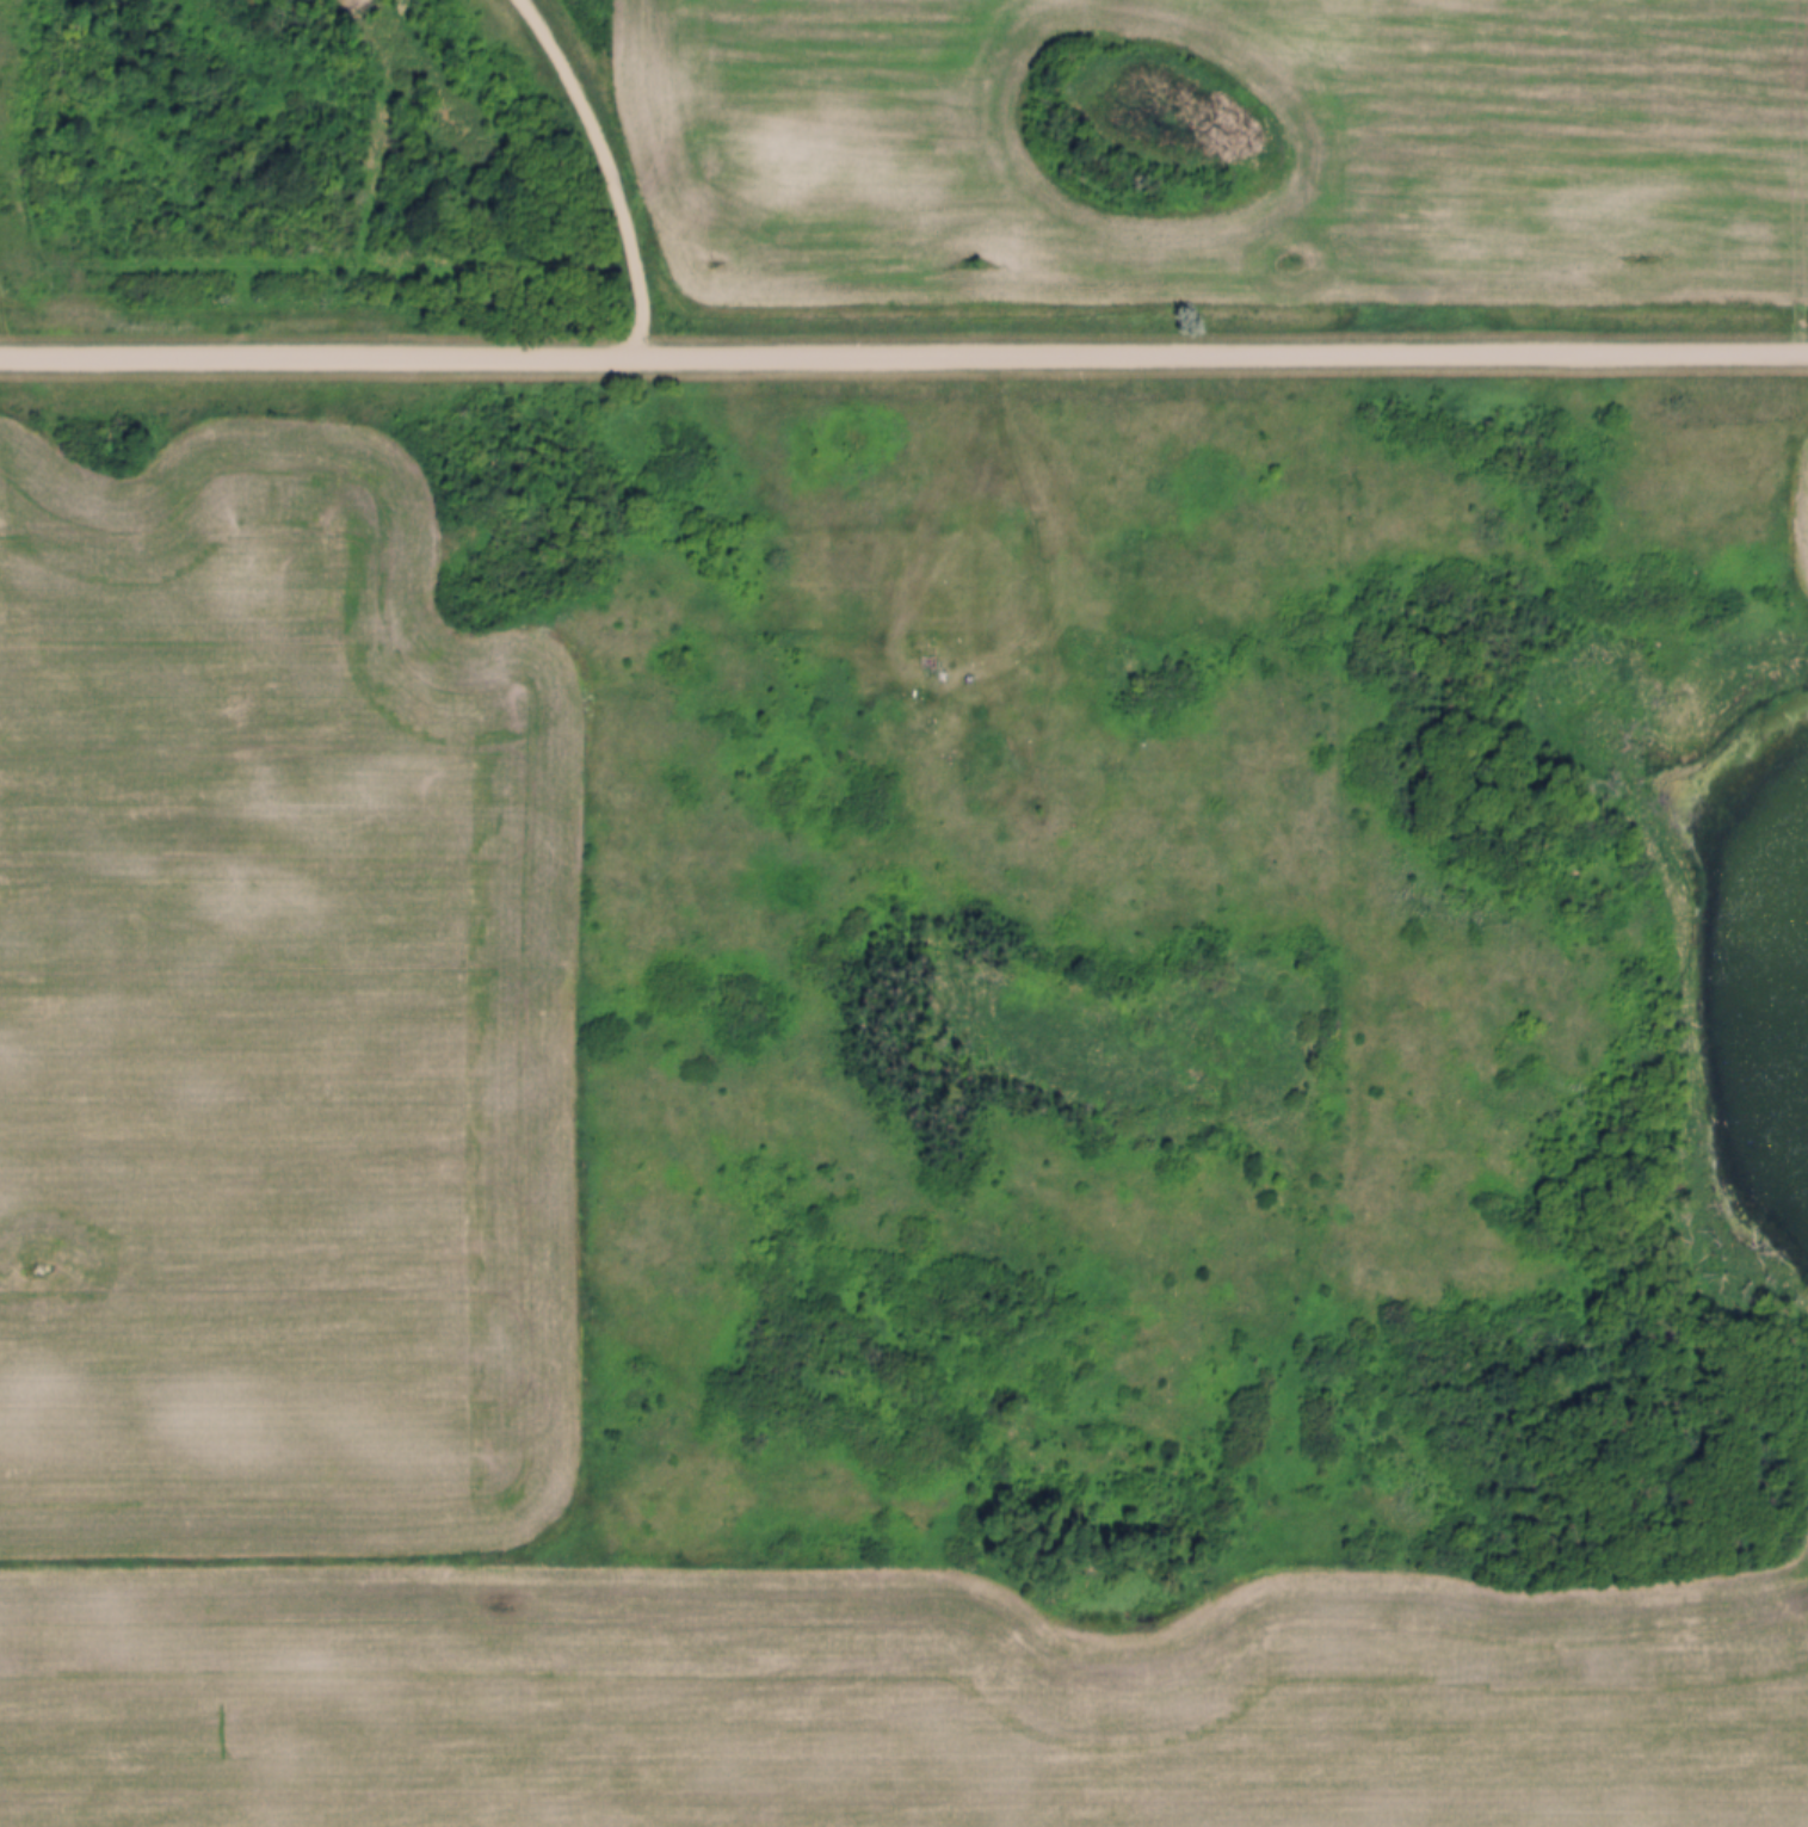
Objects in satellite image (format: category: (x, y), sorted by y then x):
road: (607, 171)
road: (903, 359)

